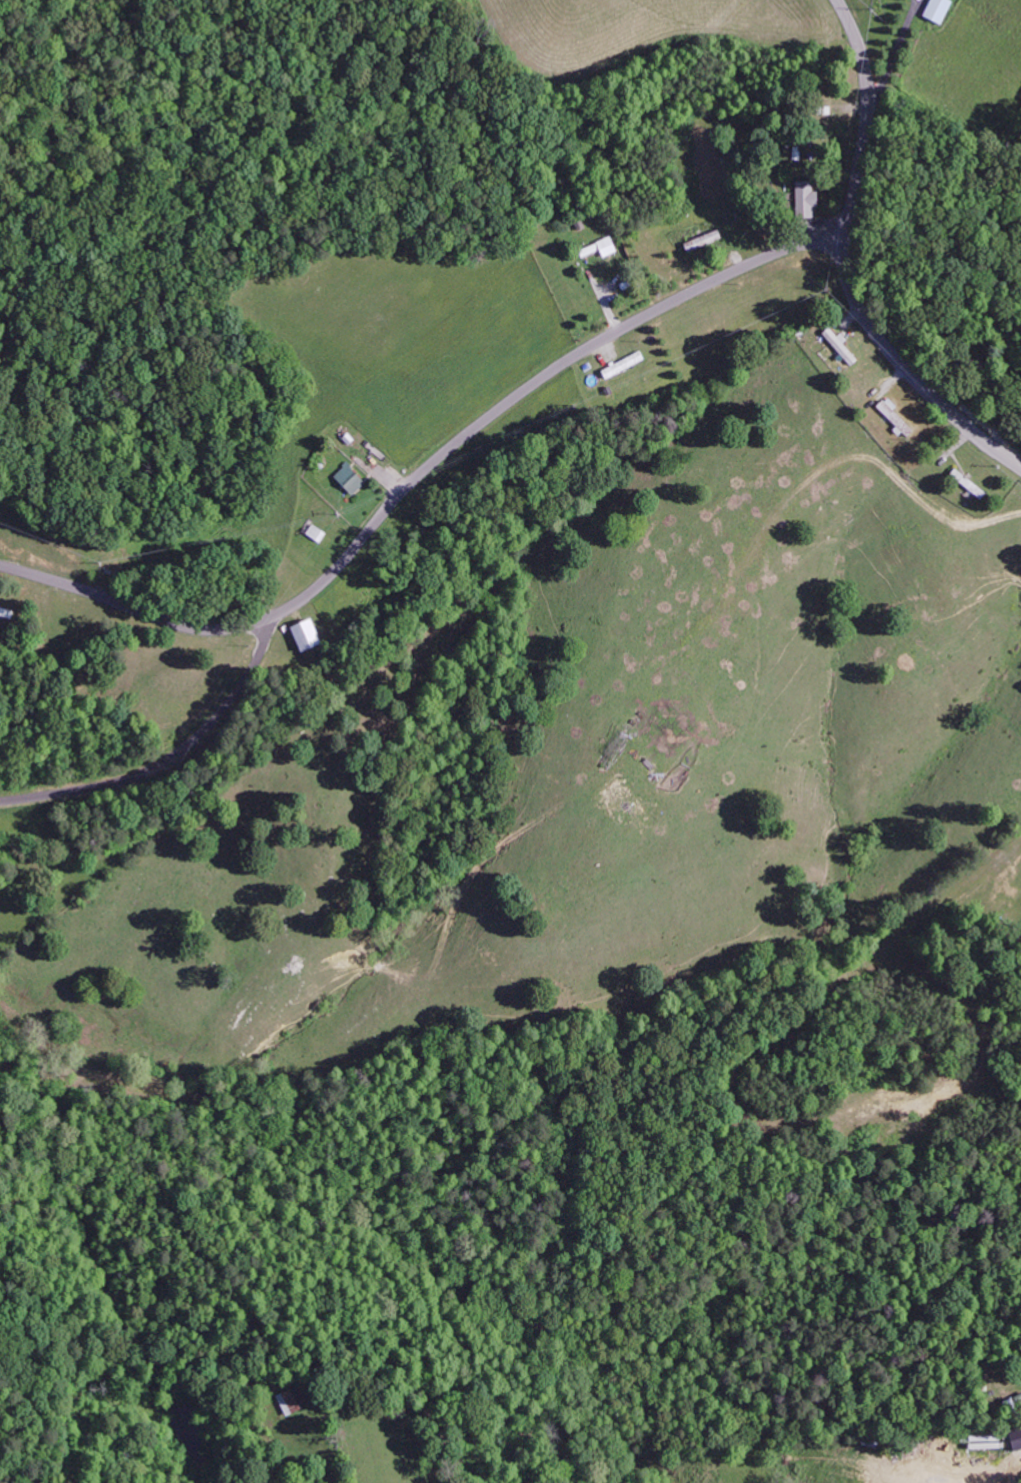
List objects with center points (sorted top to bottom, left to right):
building: (936, 10)
building: (803, 199)
building: (605, 246)
road: (849, 264)
building: (839, 346)
building: (621, 365)
building: (893, 417)
road: (421, 474)
building: (348, 480)
building: (966, 483)
building: (302, 633)
road: (172, 756)
building: (288, 1401)
building: (1014, 1438)

